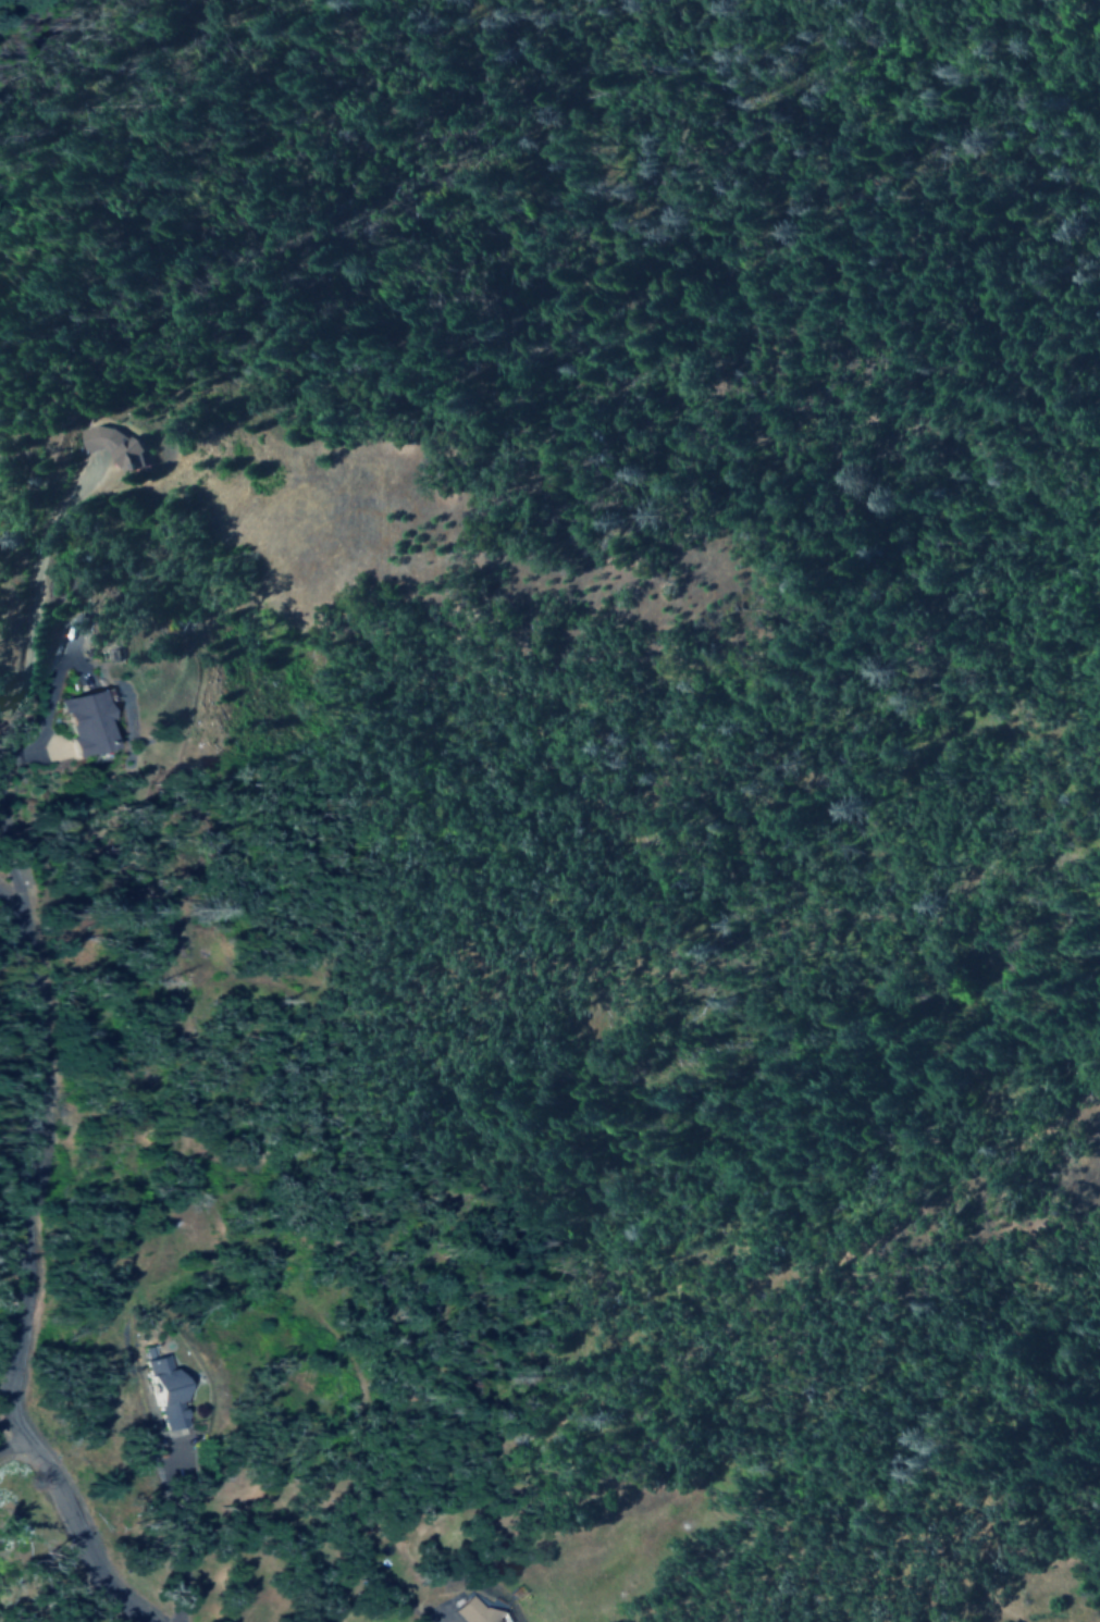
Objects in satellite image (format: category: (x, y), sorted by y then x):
building: (119, 446)
road: (30, 611)
building: (87, 721)
road: (12, 879)
road: (23, 1276)
building: (169, 1390)
building: (474, 1610)

